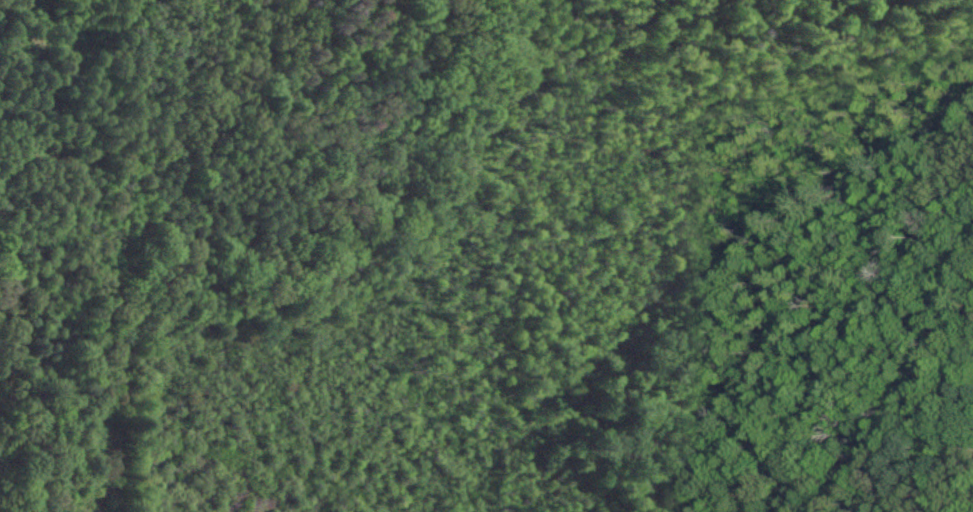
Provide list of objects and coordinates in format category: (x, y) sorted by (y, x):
road: (921, 480)

